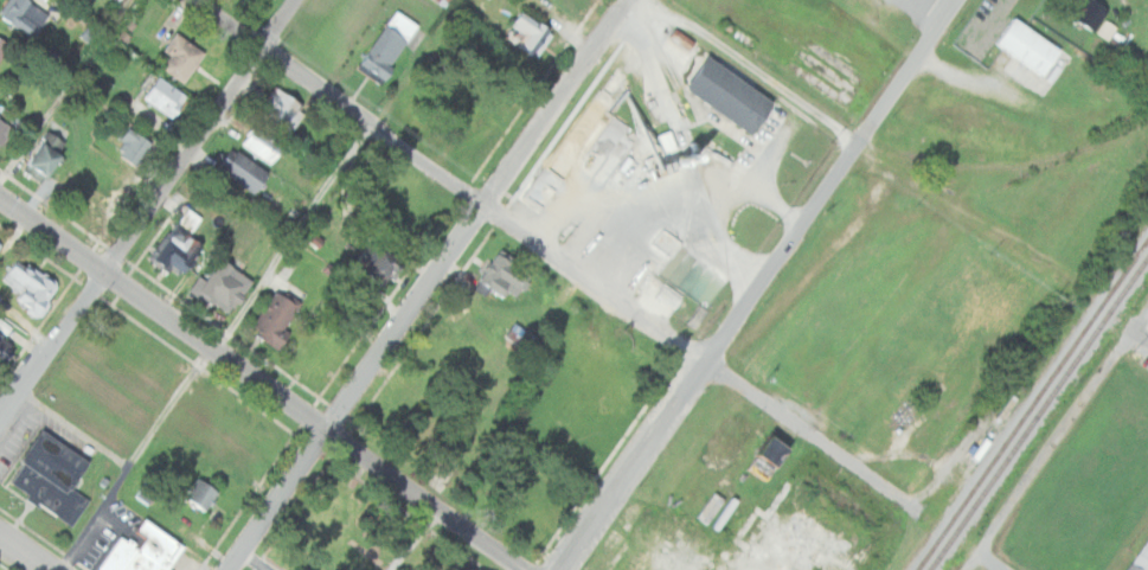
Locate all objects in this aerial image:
building: (437, 1)
building: (1086, 14)
building: (25, 15)
building: (1104, 28)
railway: (652, 30)
building: (526, 33)
building: (675, 37)
building: (383, 44)
building: (1022, 46)
building: (2, 47)
building: (181, 56)
road: (752, 68)
building: (720, 94)
building: (165, 96)
building: (281, 108)
building: (263, 143)
building: (132, 146)
railway: (893, 147)
building: (45, 158)
railway: (1037, 168)
building: (246, 174)
road: (147, 210)
building: (588, 236)
building: (309, 239)
building: (0, 246)
building: (177, 250)
road: (552, 255)
building: (374, 269)
building: (498, 277)
road: (424, 284)
road: (758, 284)
building: (30, 287)
building: (223, 288)
building: (276, 319)
road: (1144, 332)
building: (514, 334)
building: (5, 351)
road: (265, 382)
railway: (1032, 403)
railway: (1038, 414)
road: (1063, 437)
building: (51, 476)
building: (203, 493)
building: (145, 551)
road: (24, 553)
building: (1139, 558)
road: (970, 562)
road: (989, 562)
building: (467, 568)
building: (482, 568)

